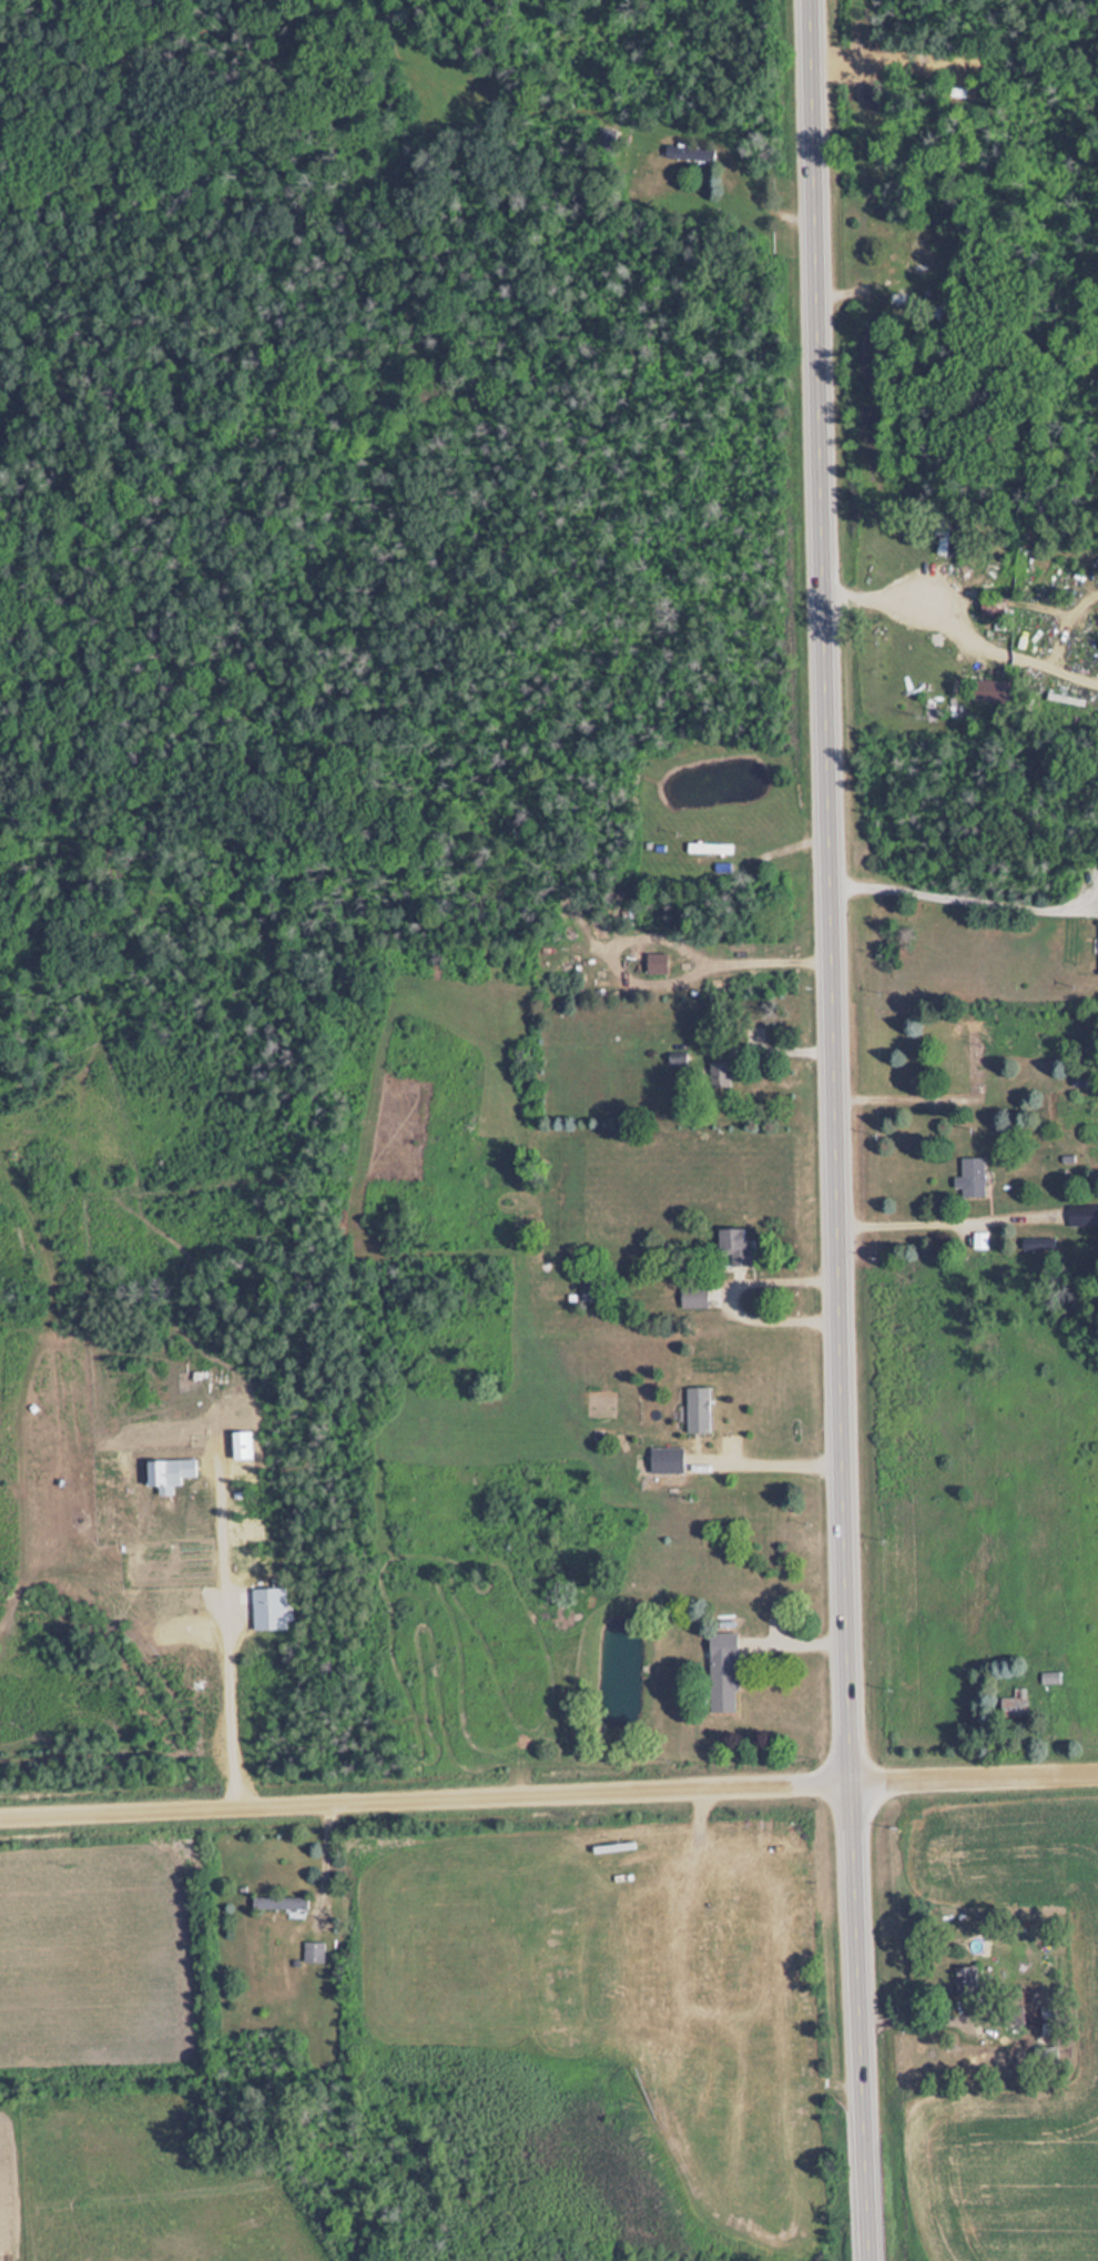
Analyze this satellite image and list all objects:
building: (689, 153)
building: (923, 253)
building: (1070, 536)
building: (955, 539)
building: (992, 607)
building: (987, 690)
building: (709, 849)
building: (655, 963)
building: (722, 1075)
building: (999, 1079)
road: (835, 1130)
building: (972, 1177)
building: (1082, 1215)
building: (733, 1247)
building: (693, 1298)
building: (698, 1410)
building: (664, 1460)
building: (722, 1673)
building: (1050, 1677)
building: (1014, 1704)
road: (548, 1798)
building: (282, 1903)
building: (313, 1951)
building: (966, 1979)
building: (1013, 2014)
building: (1046, 2055)

